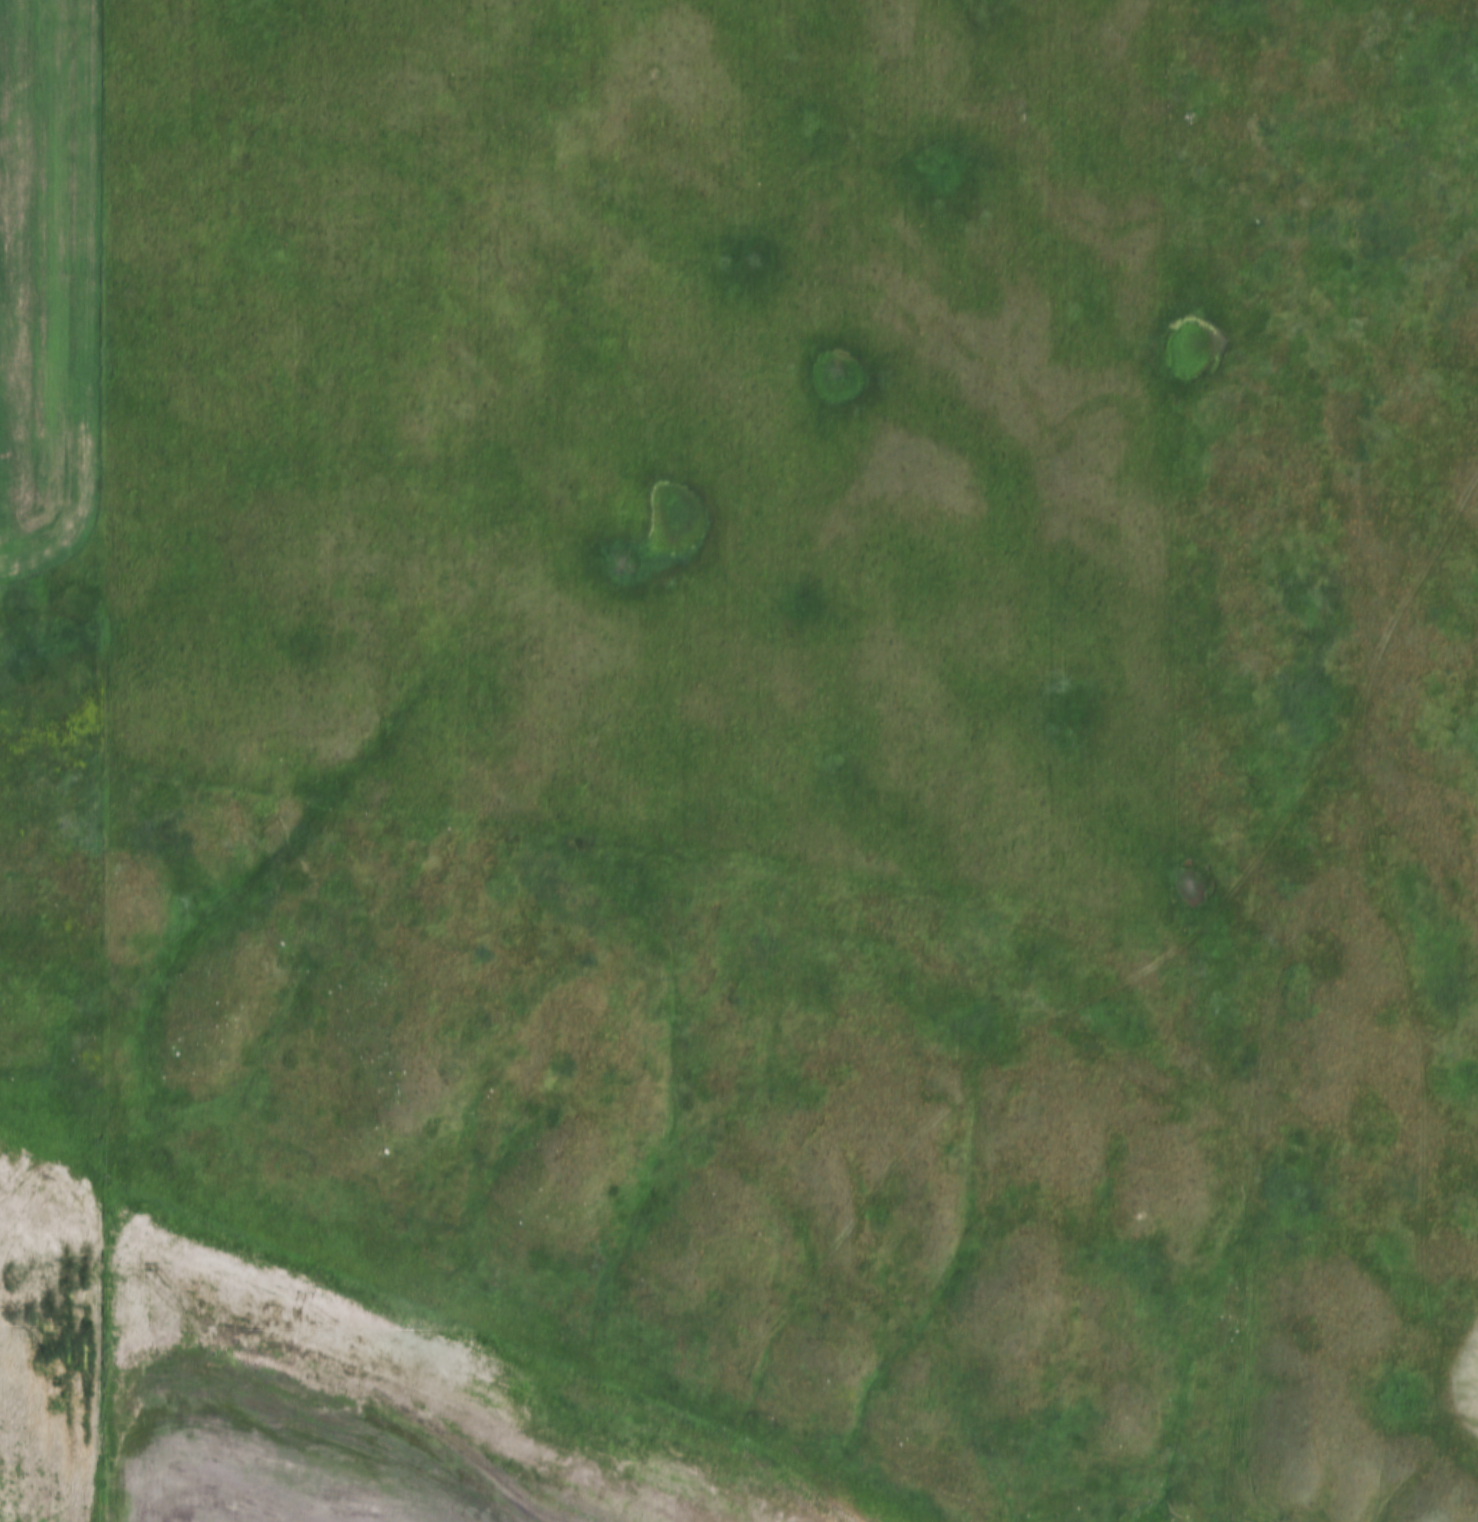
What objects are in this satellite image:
quarry: (1460, 1379)

